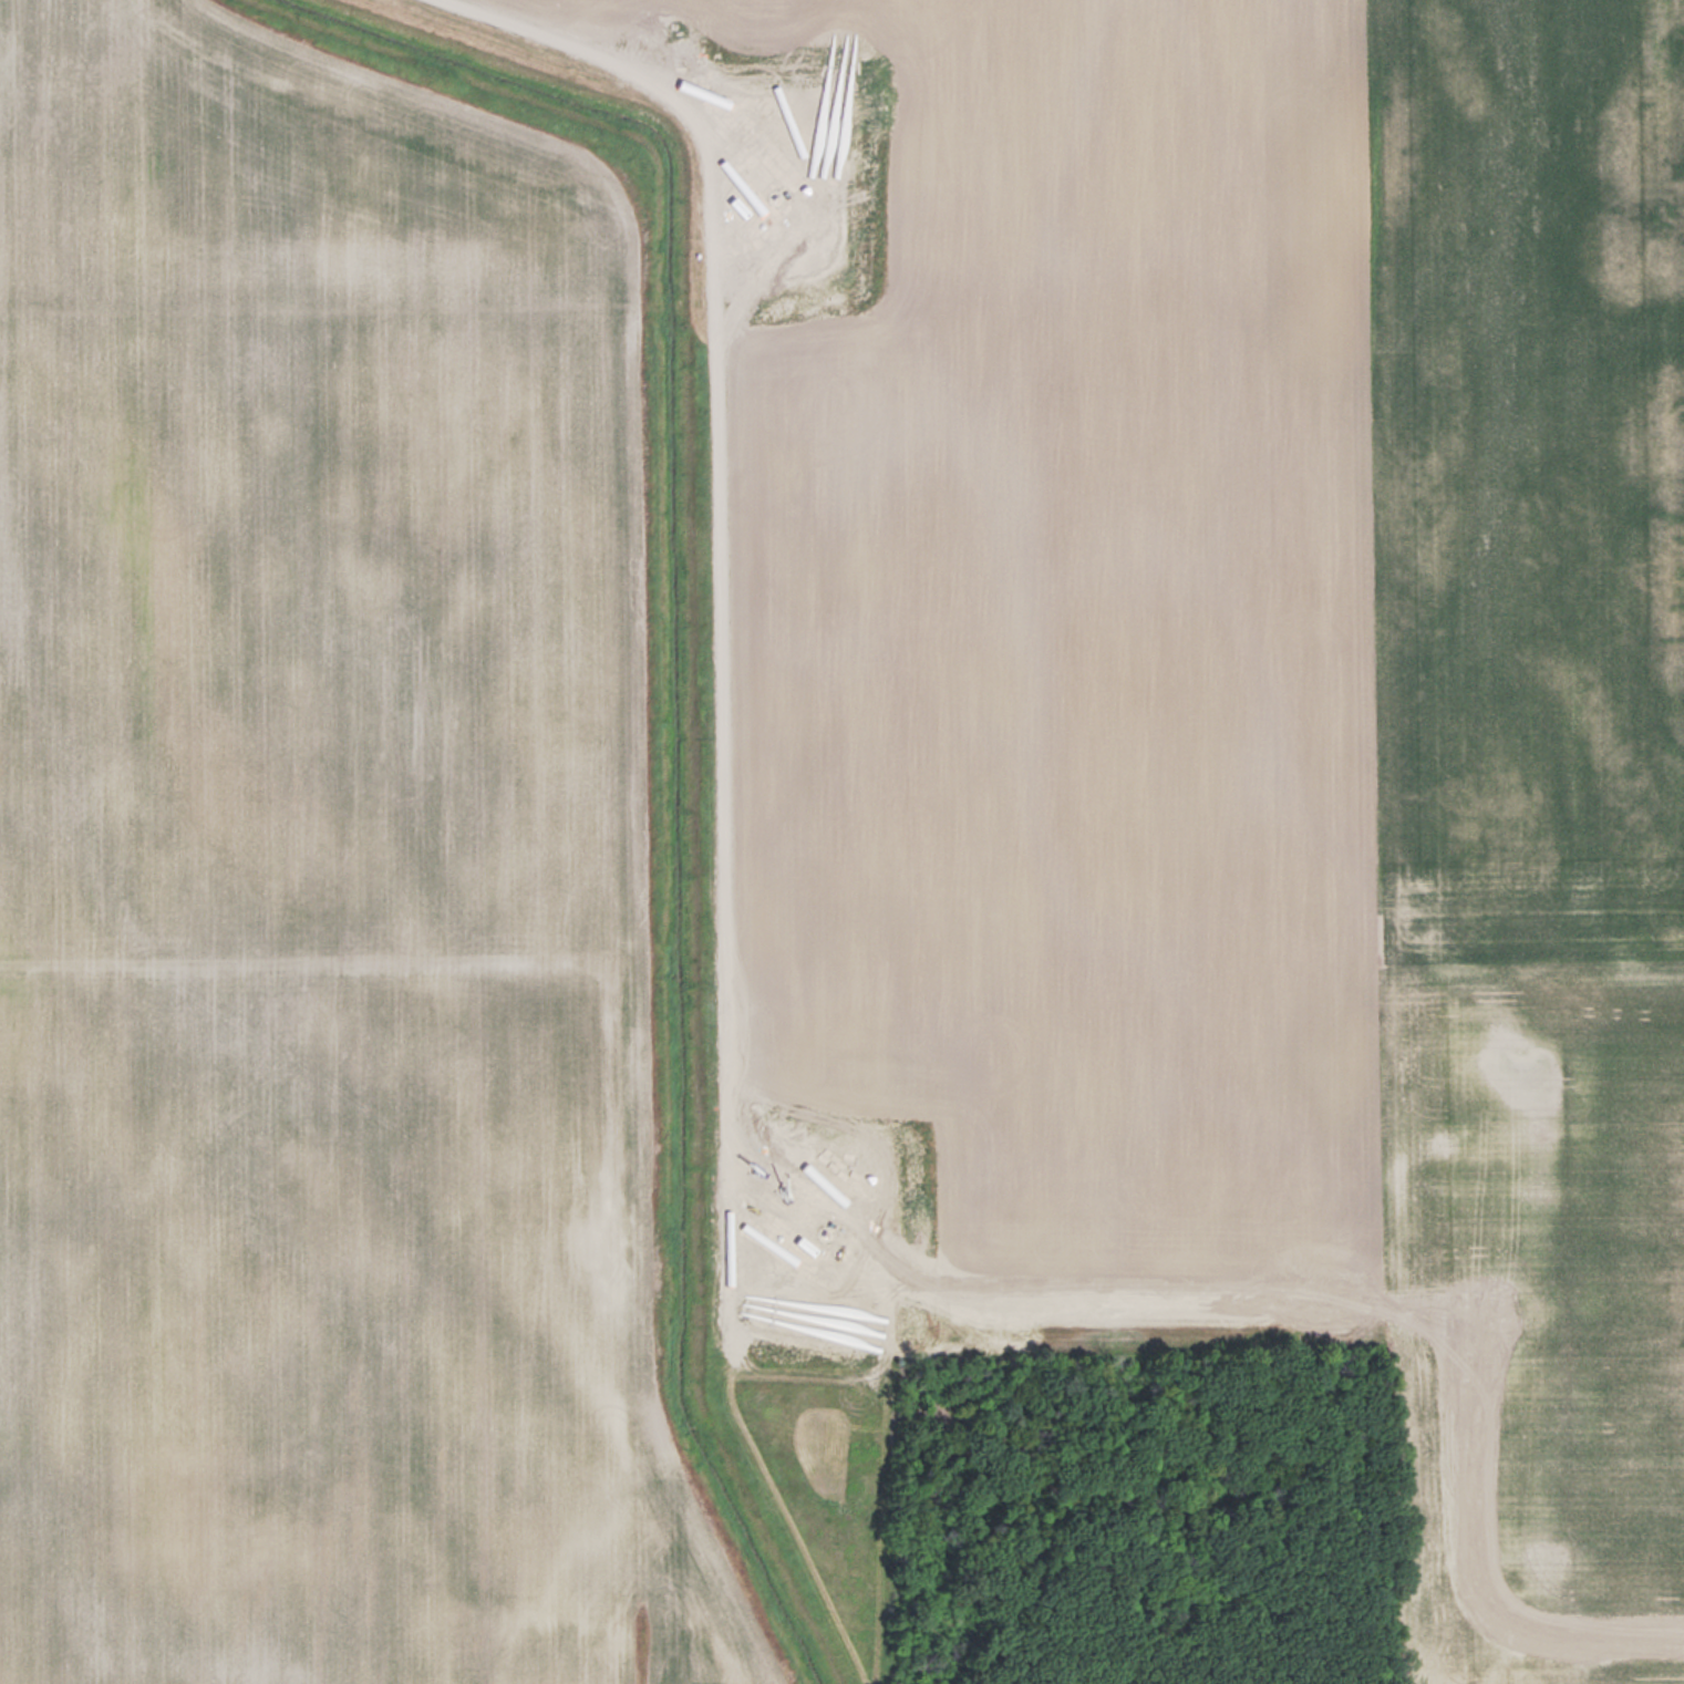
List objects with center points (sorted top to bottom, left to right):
wind turbine: (781, 189)
wind turbine: (830, 1239)

